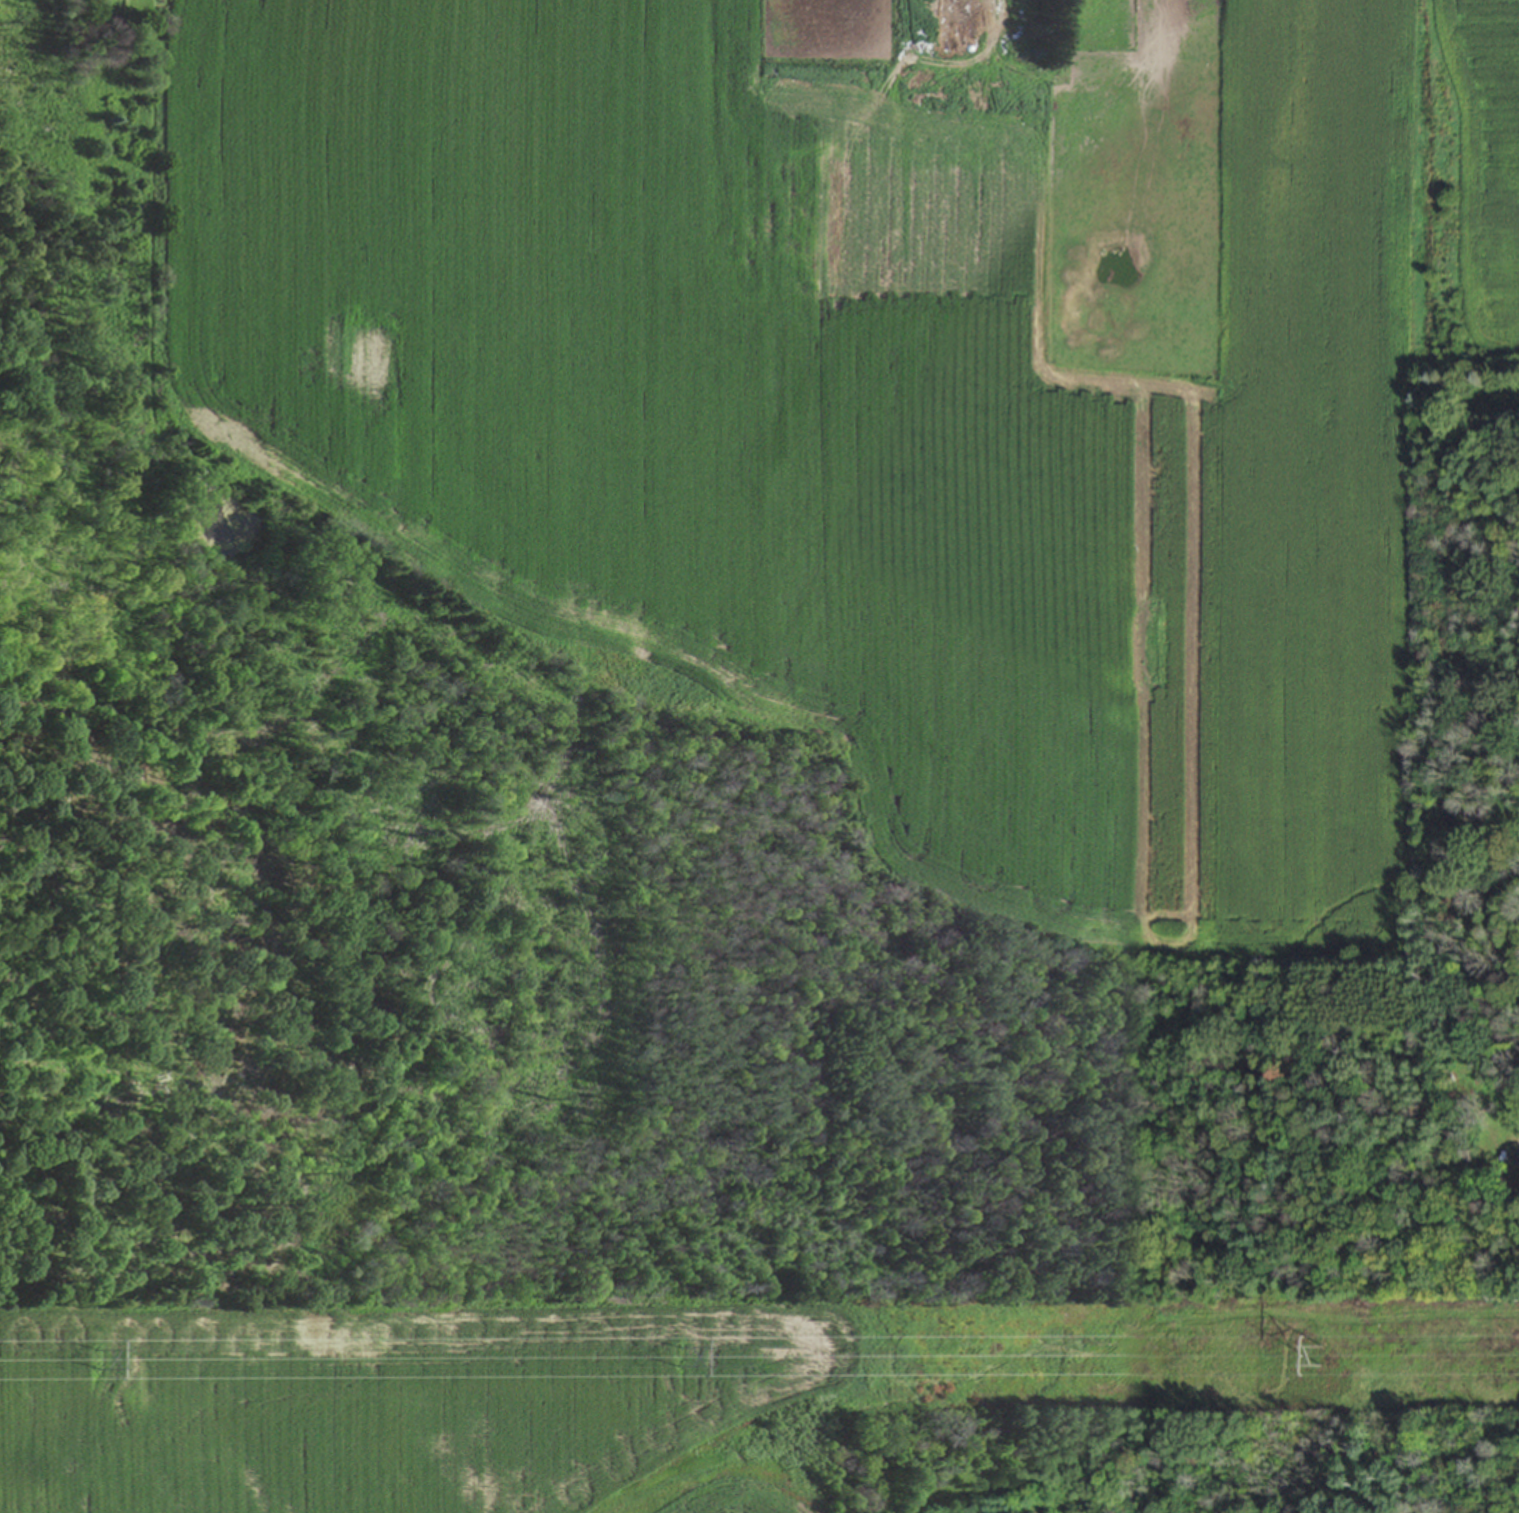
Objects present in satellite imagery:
power tower: (1319, 1350)
power tower: (679, 1354)
power tower: (101, 1359)

